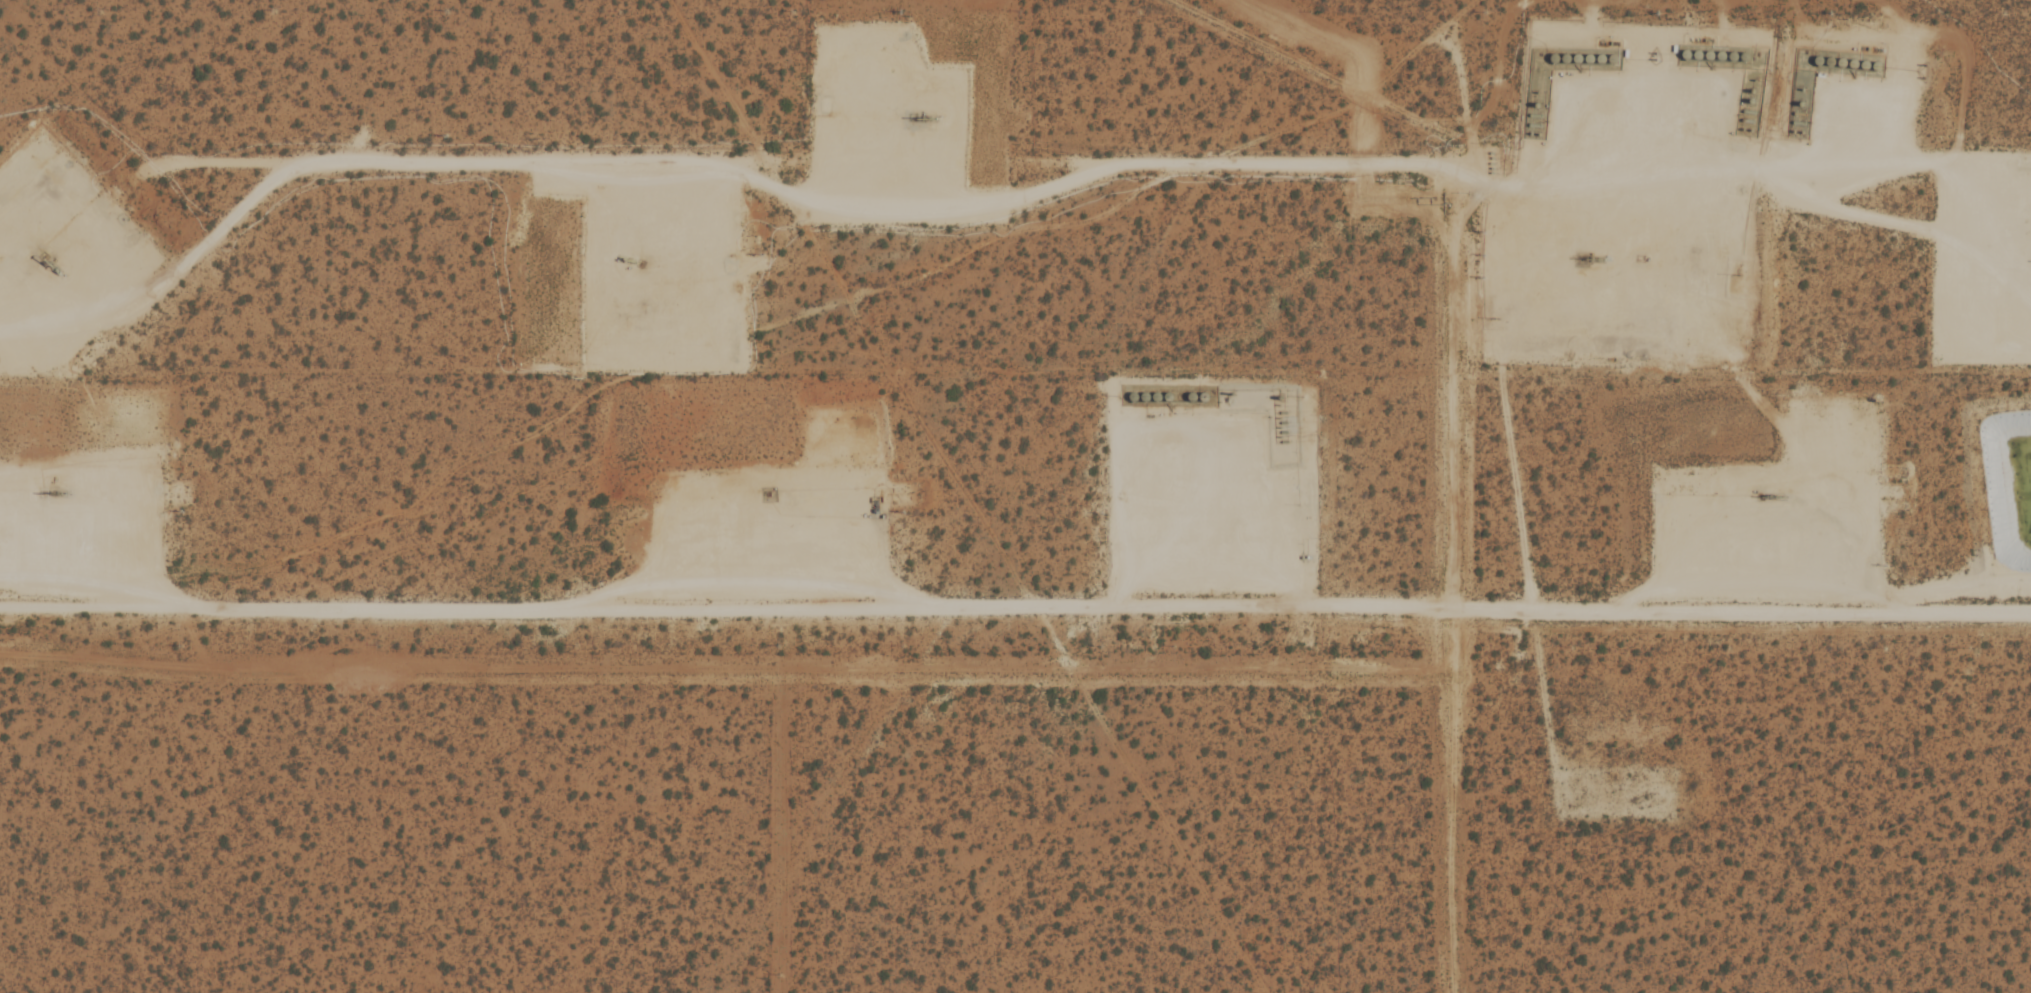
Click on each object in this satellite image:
road: (879, 129)
road: (1848, 135)
road: (1043, 188)
road: (1577, 190)
road: (1989, 225)
road: (28, 239)
road: (668, 259)
road: (1184, 514)
road: (1829, 517)
road: (823, 524)
road: (30, 534)
road: (1015, 605)
road: (1738, 820)

